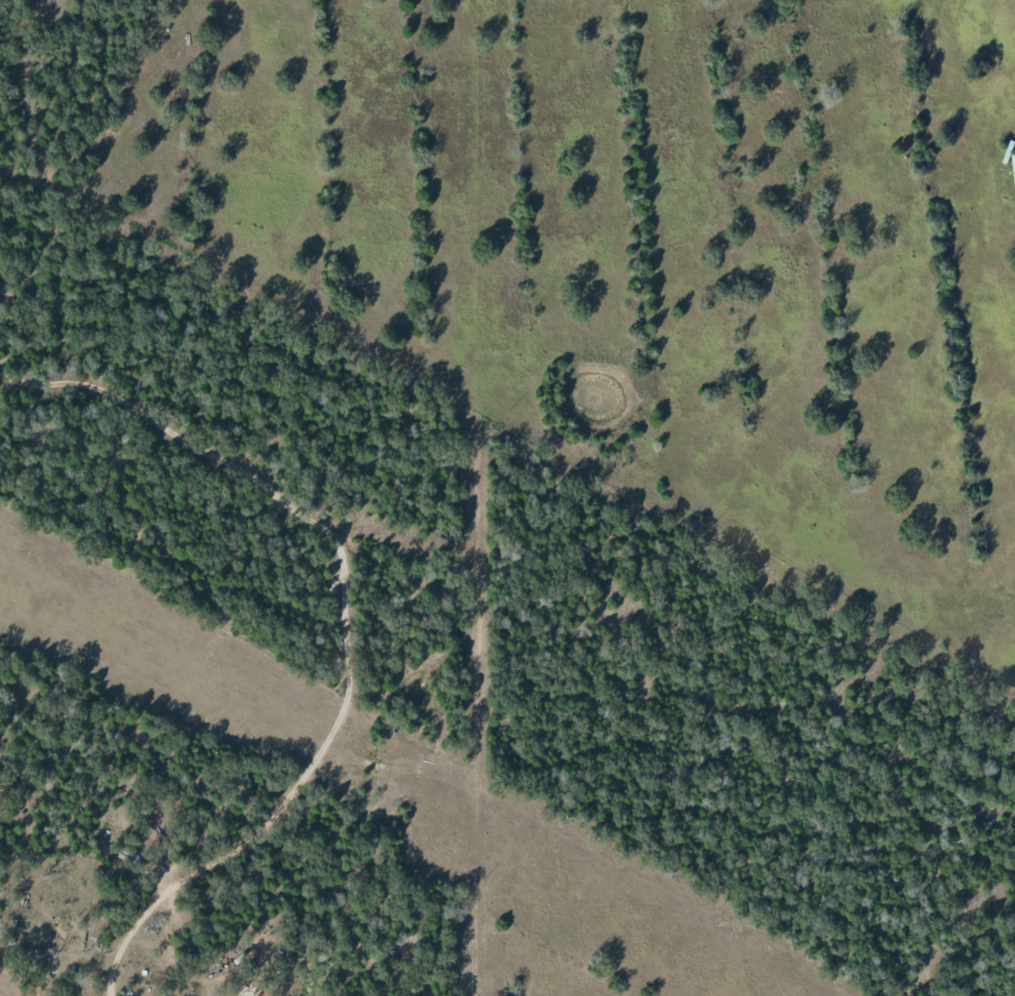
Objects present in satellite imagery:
road: (178, 33)
road: (344, 624)

